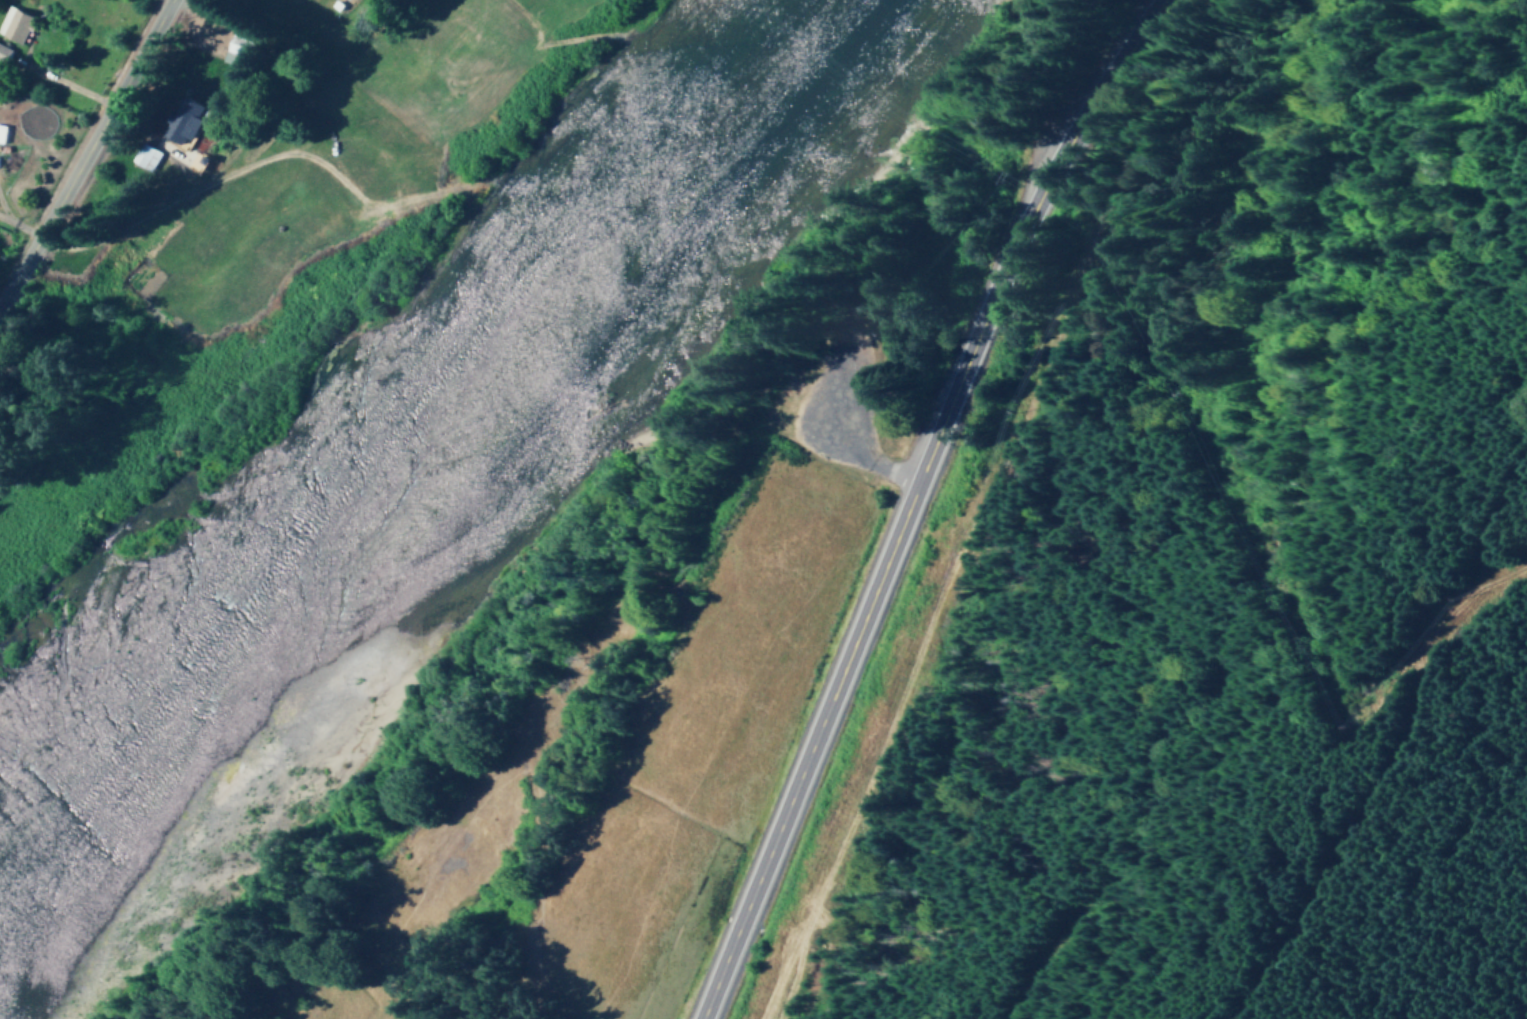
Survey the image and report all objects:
building: (12, 24)
building: (3, 54)
building: (180, 121)
building: (0, 132)
road: (88, 155)
road: (1008, 240)
park: (839, 358)
parking lot: (834, 401)
river: (424, 449)
road: (834, 456)
road: (620, 536)
road: (784, 755)

